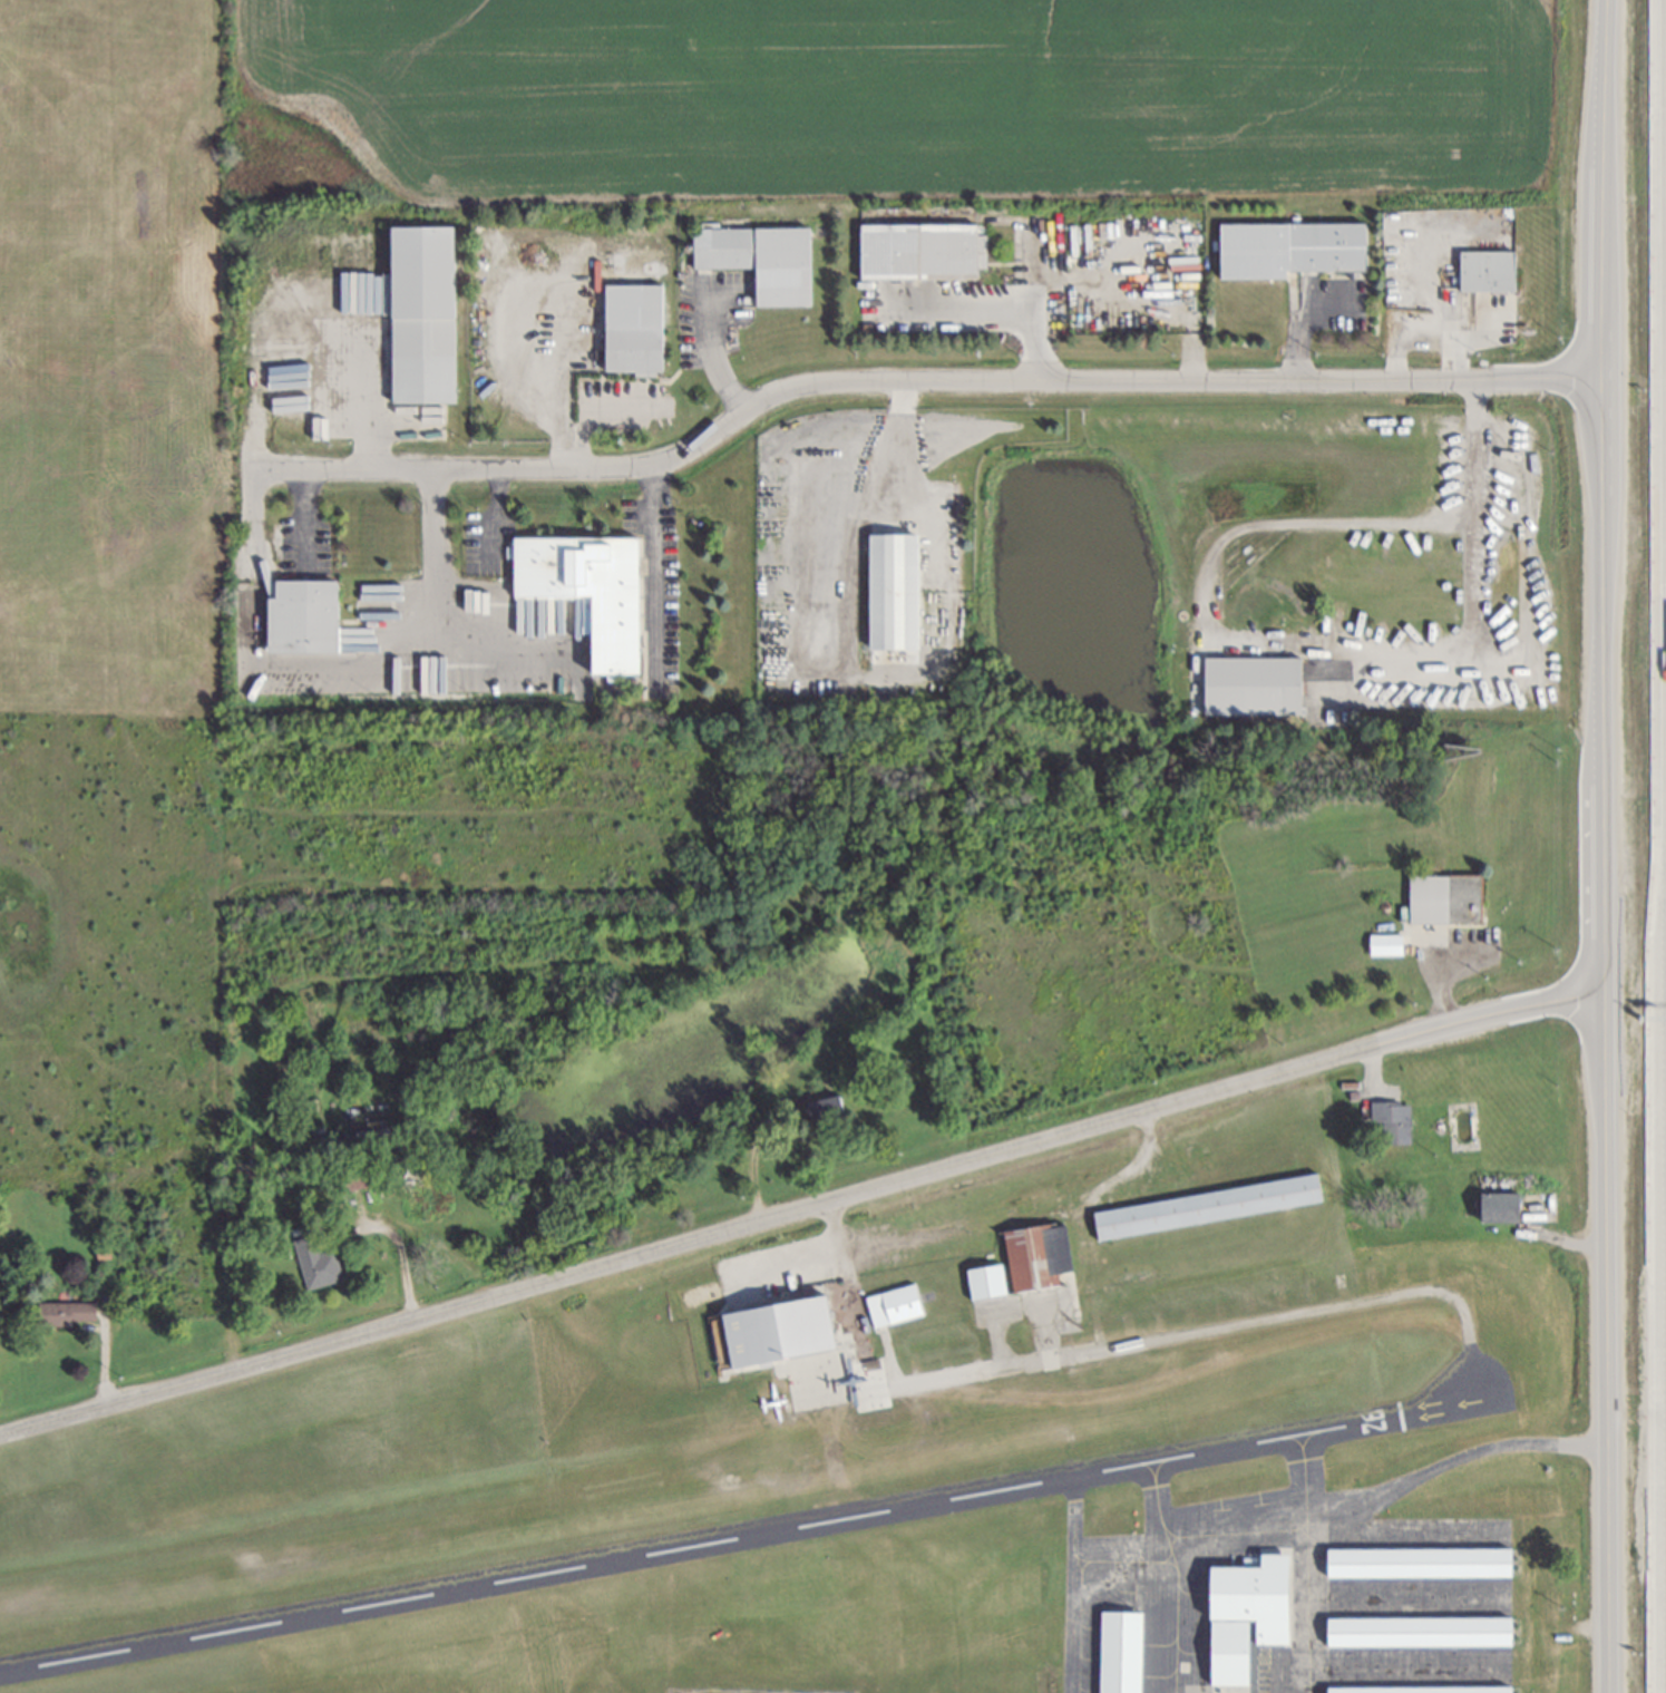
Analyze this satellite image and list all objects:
parking lot: (1046, 249)
building: (1290, 250)
building: (927, 253)
building: (769, 261)
building: (1485, 273)
road: (1044, 299)
parking lot: (1338, 305)
road: (973, 311)
building: (429, 312)
road: (1304, 313)
parking lot: (721, 314)
parking lot: (1495, 322)
road: (1430, 324)
building: (641, 329)
road: (1494, 340)
road: (720, 352)
road: (925, 382)
road: (314, 388)
road: (594, 407)
parking lot: (630, 407)
road: (887, 444)
road: (1482, 514)
road: (498, 517)
road: (312, 519)
road: (1352, 529)
parking lot: (493, 546)
parking lot: (313, 549)
road: (252, 563)
road: (436, 575)
road: (660, 578)
road: (1220, 590)
building: (597, 593)
building: (899, 593)
parking lot: (662, 594)
building: (308, 619)
road: (1352, 650)
road: (316, 663)
building: (1259, 685)
parking lot: (1397, 685)
road: (1401, 688)
road: (1608, 846)
building: (1449, 901)
building: (1391, 946)
parking lot: (1477, 955)
road: (1439, 957)
building: (826, 1108)
building: (1391, 1125)
road: (753, 1155)
building: (245, 1169)
airport hangar: (1207, 1206)
building: (1207, 1206)
road: (805, 1207)
building: (1499, 1208)
road: (402, 1254)
airport hangar: (1037, 1256)
building: (1037, 1256)
building: (318, 1262)
road: (811, 1264)
parking lot: (788, 1271)
airport hangar: (987, 1282)
building: (987, 1282)
airport hangar: (894, 1305)
building: (894, 1305)
airport apron: (1030, 1305)
building: (68, 1312)
airport taxiway: (1042, 1327)
airport hangar: (785, 1329)
building: (785, 1329)
airport taxiway: (1205, 1329)
airport taxiway: (994, 1332)
airport taxiway: (889, 1358)
airport apron: (816, 1378)
airport taxiway: (1305, 1438)
airport taxiway: (836, 1458)
airport: (884, 1458)
airport taxiway: (1154, 1468)
airport runway: (555, 1493)
road: (1375, 1501)
airport taxiway: (1159, 1514)
airport taxiway: (1305, 1526)
airport taxiway: (1277, 1529)
airport runway: (701, 1544)
airport taxiway: (1169, 1548)
airport hangar: (1420, 1563)
building: (1420, 1563)
airport taxiway: (1082, 1564)
airport taxiway: (1176, 1577)
airport taxiway: (1079, 1583)
airport apron: (1399, 1594)
airport taxiway: (1305, 1605)
airport terminal: (1246, 1614)
building: (1246, 1614)
airport hangar: (1420, 1631)
building: (1420, 1631)
airport hangar: (1121, 1652)
building: (1121, 1652)
parking lot: (1267, 1665)
airport hangar: (1422, 1690)
building: (1422, 1690)

